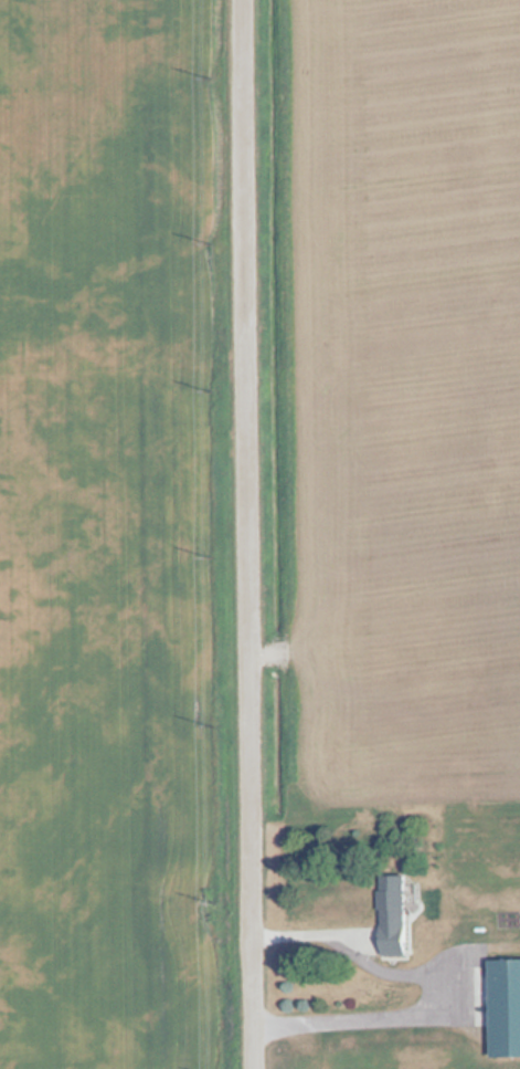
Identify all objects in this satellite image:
road: (251, 534)
building: (390, 915)
building: (502, 1008)

